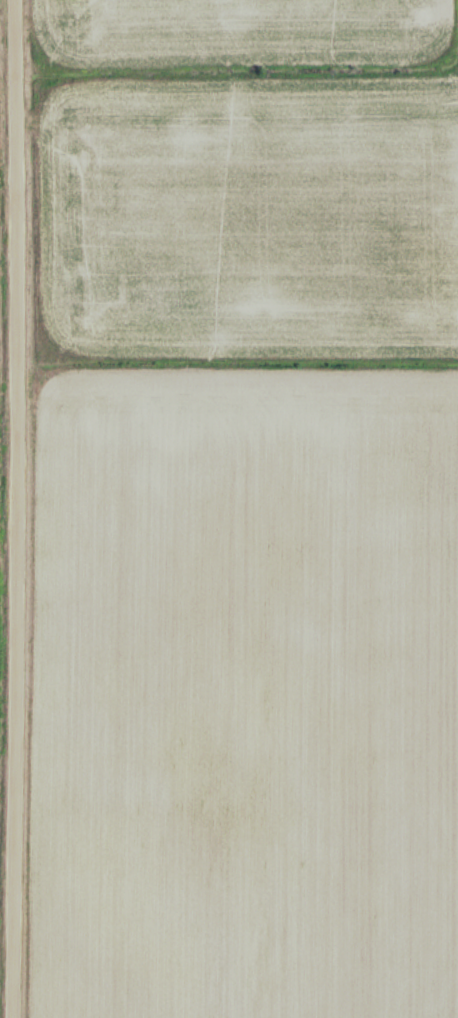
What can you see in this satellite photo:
road: (12, 508)

